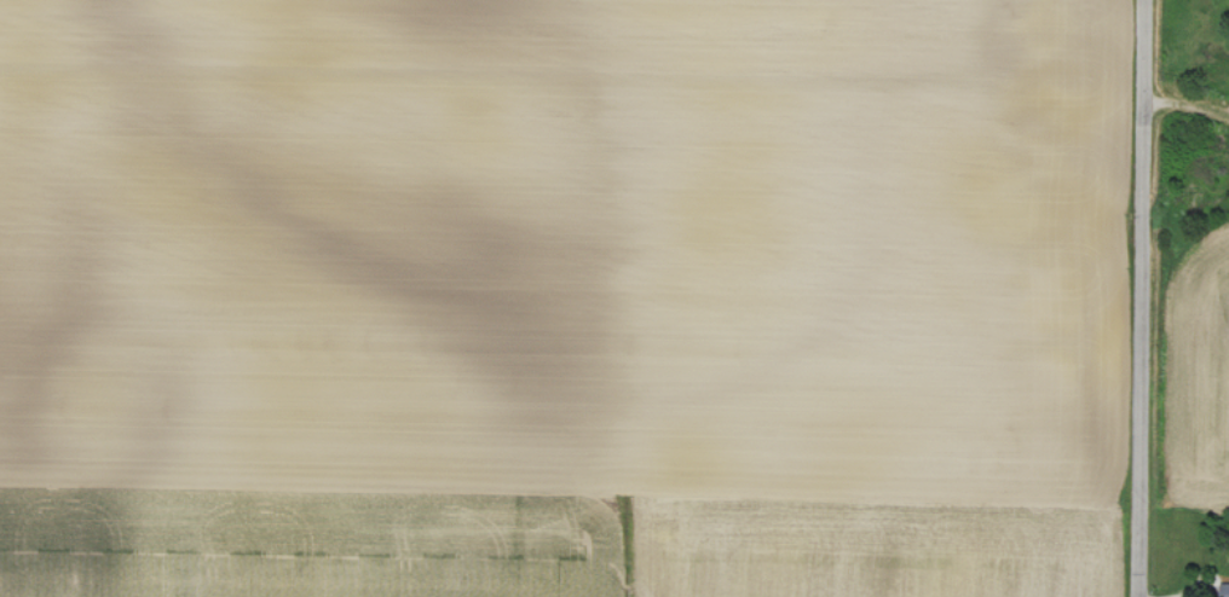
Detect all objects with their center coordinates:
road: (1187, 120)
road: (1143, 297)
building: (1227, 590)

